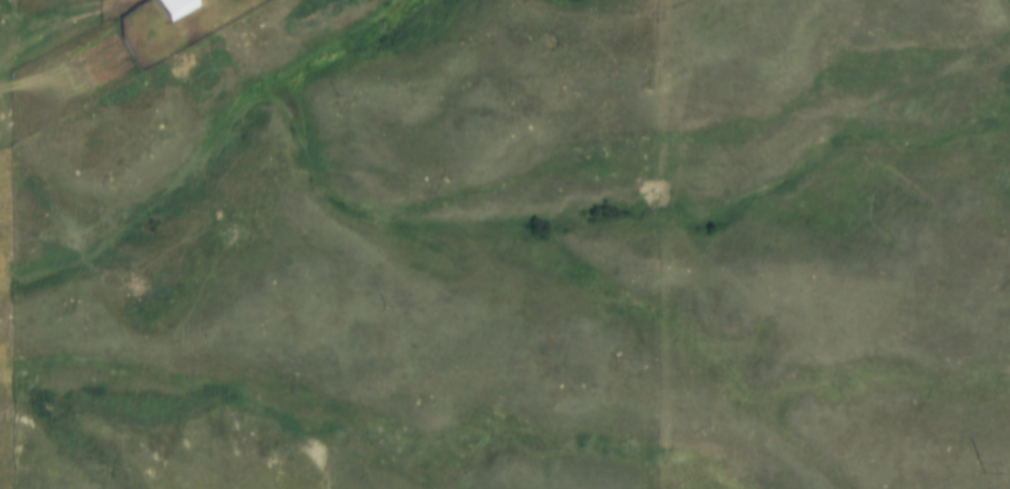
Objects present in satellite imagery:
power tower: (982, 467)

